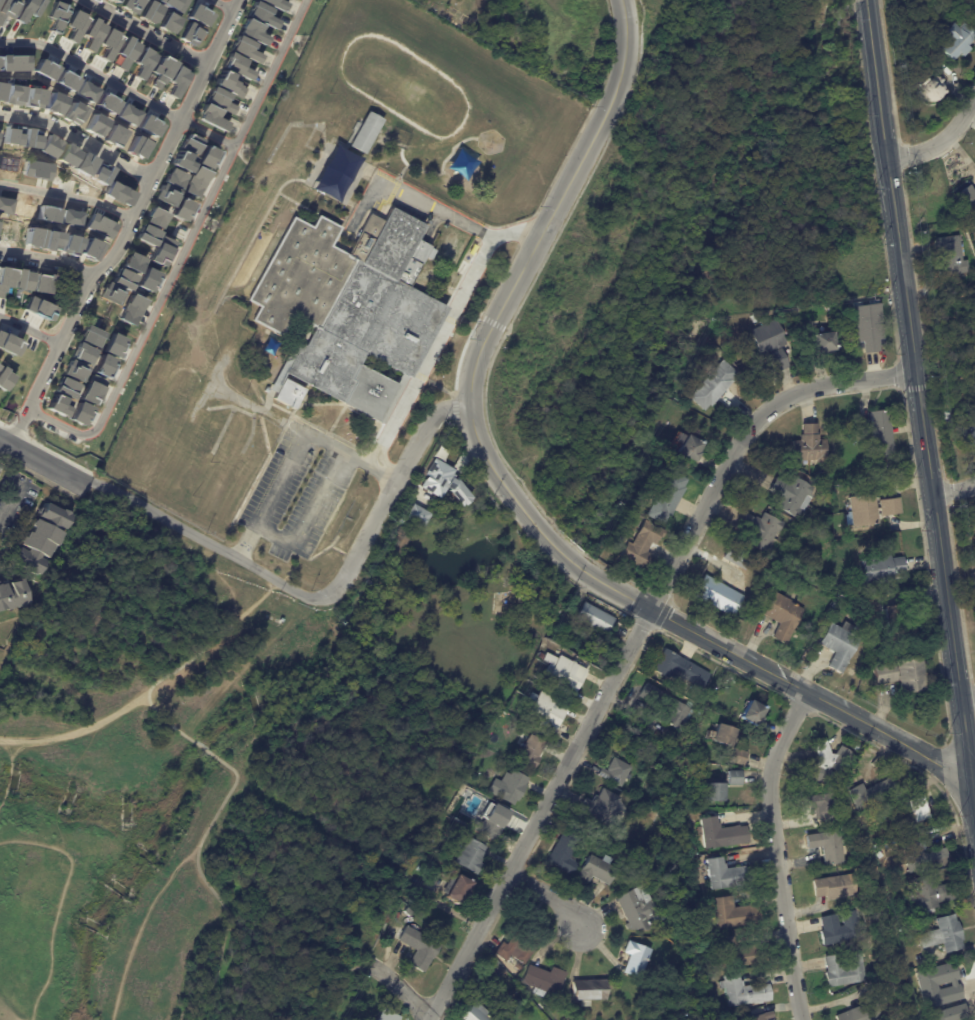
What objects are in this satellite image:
building: (113, 1)
building: (173, 4)
building: (275, 4)
building: (131, 5)
road: (224, 5)
building: (7, 7)
building: (28, 9)
building: (151, 11)
building: (260, 14)
building: (55, 15)
building: (198, 15)
building: (169, 23)
building: (74, 25)
road: (151, 30)
building: (251, 31)
building: (190, 33)
building: (91, 34)
building: (108, 44)
building: (958, 44)
building: (245, 50)
building: (125, 51)
building: (141, 61)
building: (17, 62)
building: (235, 66)
road: (93, 70)
building: (158, 72)
building: (175, 80)
building: (228, 83)
track: (403, 85)
building: (929, 89)
building: (15, 94)
building: (36, 97)
building: (220, 100)
building: (111, 102)
building: (77, 113)
building: (131, 113)
building: (210, 117)
building: (99, 124)
building: (152, 125)
road: (292, 125)
road: (207, 131)
building: (366, 133)
building: (118, 134)
road: (578, 134)
building: (14, 136)
road: (78, 138)
road: (940, 140)
building: (189, 144)
road: (346, 145)
road: (307, 146)
building: (140, 147)
road: (398, 153)
building: (204, 156)
building: (181, 162)
road: (361, 166)
road: (314, 167)
building: (38, 169)
road: (439, 171)
building: (338, 174)
building: (173, 178)
building: (193, 182)
road: (392, 192)
building: (121, 193)
building: (163, 194)
road: (67, 195)
road: (408, 195)
building: (969, 199)
road: (271, 202)
building: (178, 208)
road: (309, 210)
road: (135, 211)
road: (362, 220)
building: (102, 226)
building: (149, 226)
road: (525, 230)
road: (483, 234)
building: (36, 237)
building: (54, 240)
road: (183, 247)
building: (89, 249)
building: (159, 252)
building: (952, 256)
road: (48, 260)
building: (131, 262)
building: (4, 277)
building: (121, 279)
building: (21, 280)
building: (145, 280)
building: (40, 284)
road: (495, 288)
building: (109, 295)
building: (348, 305)
building: (36, 309)
building: (130, 309)
road: (447, 319)
road: (108, 322)
road: (28, 327)
building: (869, 327)
road: (463, 328)
road: (121, 333)
road: (439, 335)
building: (89, 336)
building: (769, 338)
building: (111, 344)
building: (825, 344)
building: (7, 346)
building: (81, 353)
building: (779, 361)
road: (459, 362)
building: (101, 364)
building: (73, 370)
road: (417, 374)
building: (958, 374)
building: (3, 378)
road: (274, 386)
building: (715, 386)
building: (64, 387)
road: (439, 387)
building: (90, 389)
building: (288, 394)
road: (397, 397)
building: (55, 403)
road: (315, 404)
road: (919, 404)
road: (455, 408)
building: (78, 412)
road: (248, 414)
road: (16, 430)
road: (222, 430)
building: (881, 433)
building: (968, 435)
road: (4, 441)
building: (810, 446)
road: (294, 449)
building: (692, 450)
building: (684, 464)
road: (58, 468)
building: (437, 479)
road: (954, 487)
road: (392, 488)
parking lot: (297, 492)
road: (510, 493)
building: (793, 496)
road: (11, 498)
building: (668, 499)
building: (891, 507)
building: (865, 511)
building: (415, 515)
road: (309, 521)
road: (174, 523)
building: (762, 532)
building: (41, 537)
building: (398, 544)
building: (642, 546)
building: (739, 557)
building: (882, 570)
road: (282, 582)
building: (13, 594)
building: (719, 597)
building: (836, 607)
building: (595, 617)
building: (784, 618)
building: (897, 625)
road: (630, 643)
building: (872, 644)
building: (840, 645)
building: (680, 669)
building: (564, 674)
building: (885, 675)
building: (911, 677)
road: (154, 689)
road: (967, 692)
building: (666, 705)
building: (547, 712)
building: (754, 713)
road: (161, 715)
building: (725, 735)
road: (198, 746)
building: (857, 747)
building: (532, 752)
building: (739, 756)
park: (243, 763)
building: (828, 764)
building: (616, 772)
building: (736, 777)
building: (509, 787)
road: (973, 790)
building: (716, 791)
building: (873, 793)
building: (601, 806)
building: (825, 808)
building: (912, 812)
building: (491, 821)
building: (723, 834)
building: (829, 847)
building: (566, 852)
road: (776, 852)
building: (936, 855)
building: (472, 856)
building: (598, 869)
building: (729, 875)
road: (214, 883)
building: (839, 887)
building: (459, 889)
road: (548, 894)
building: (932, 895)
building: (637, 909)
building: (408, 911)
building: (734, 914)
building: (841, 928)
building: (945, 935)
building: (419, 948)
building: (514, 950)
building: (737, 954)
building: (636, 958)
building: (519, 967)
building: (845, 970)
building: (543, 980)
building: (480, 983)
building: (931, 986)
road: (399, 988)
building: (589, 991)
building: (745, 992)
building: (865, 1012)
building: (476, 1013)
building: (956, 1013)
building: (387, 1015)
building: (763, 1017)

